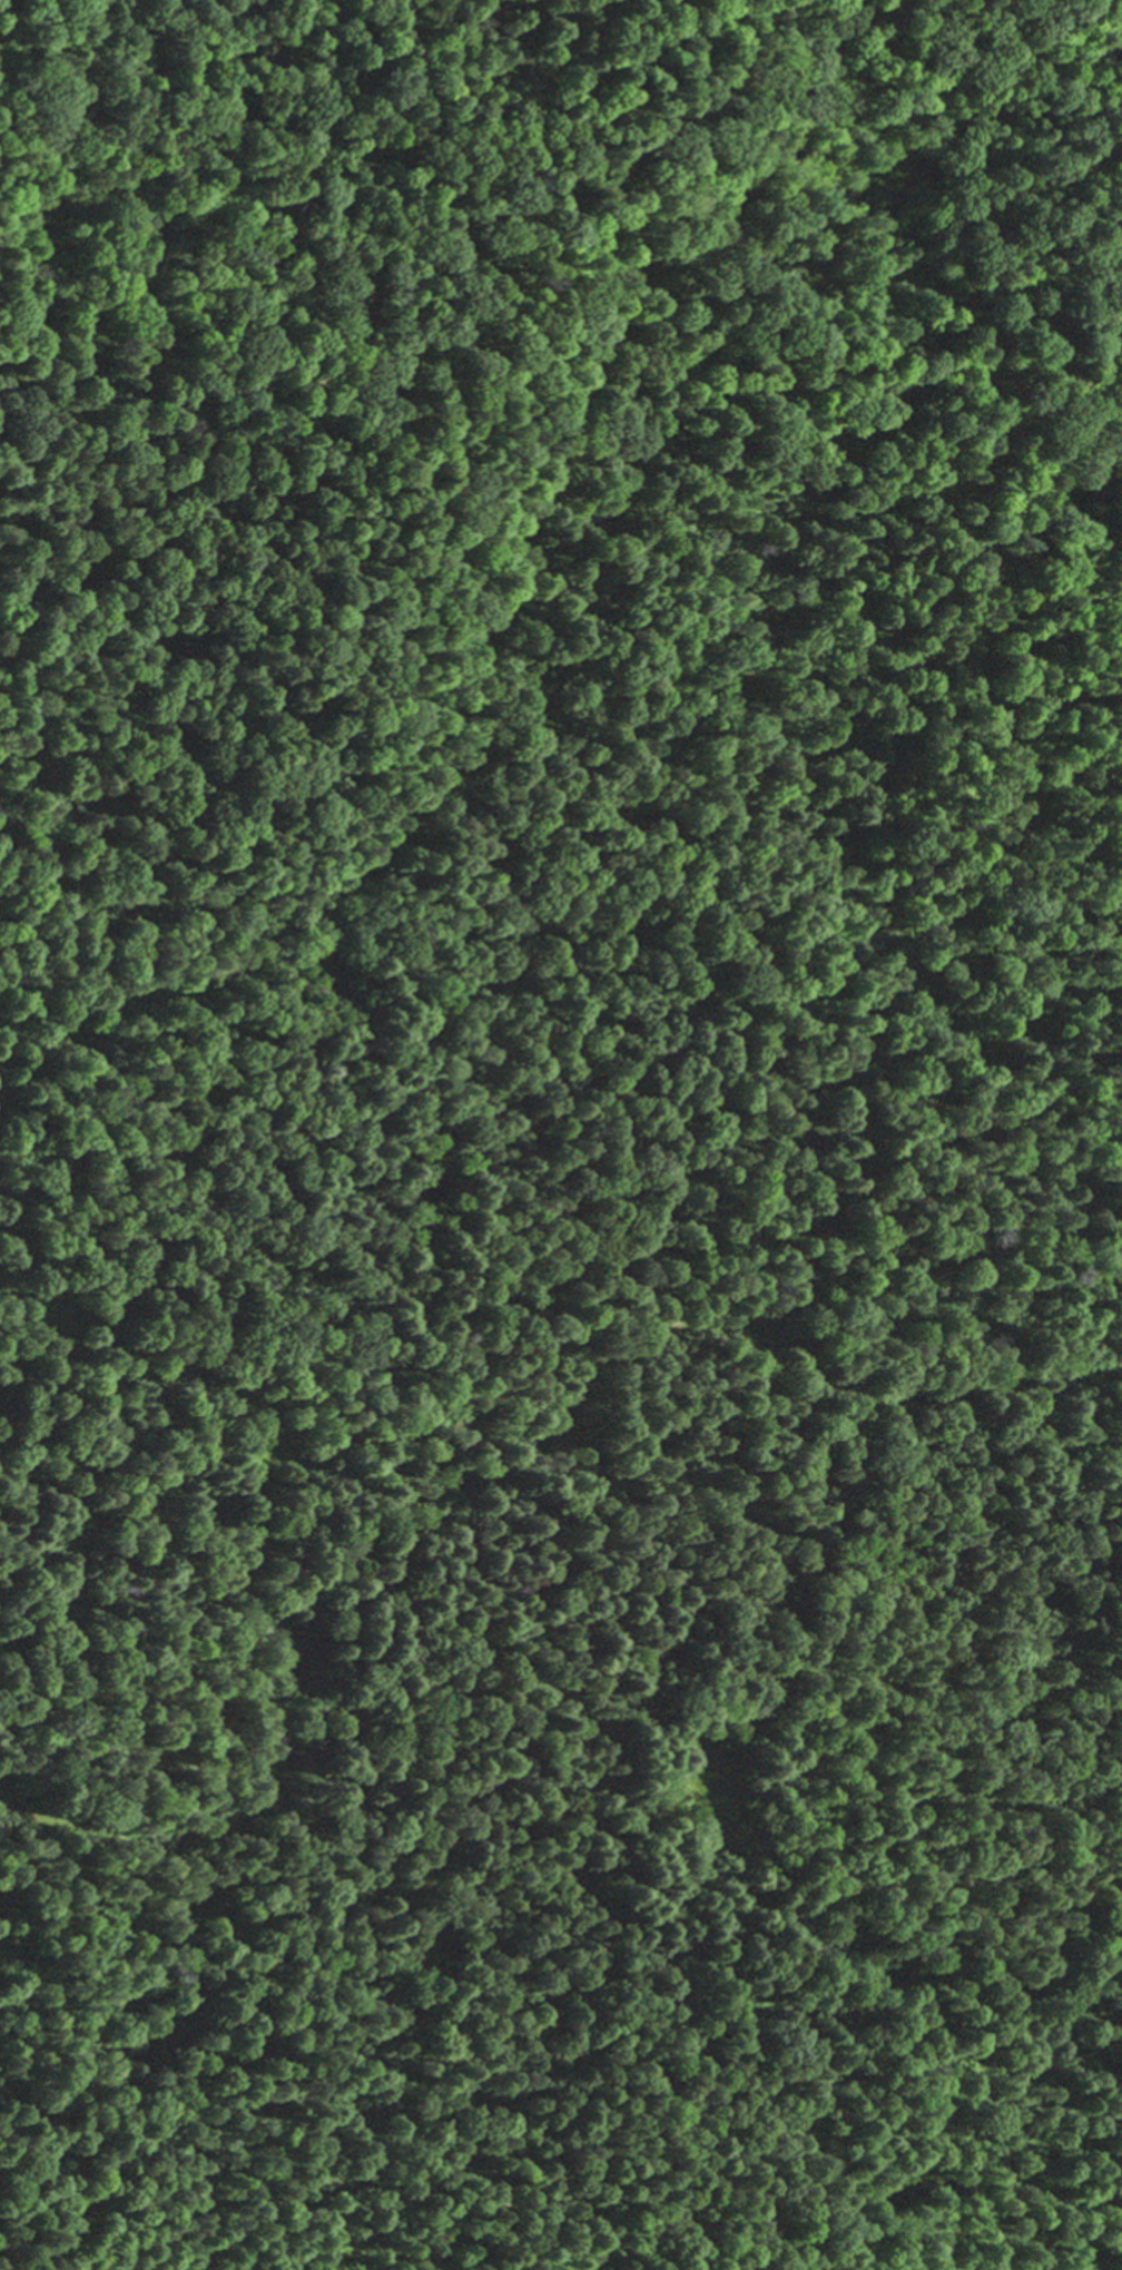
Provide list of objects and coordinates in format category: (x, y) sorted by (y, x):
road: (601, 756)
road: (482, 1463)
road: (225, 1782)
road: (495, 2203)

